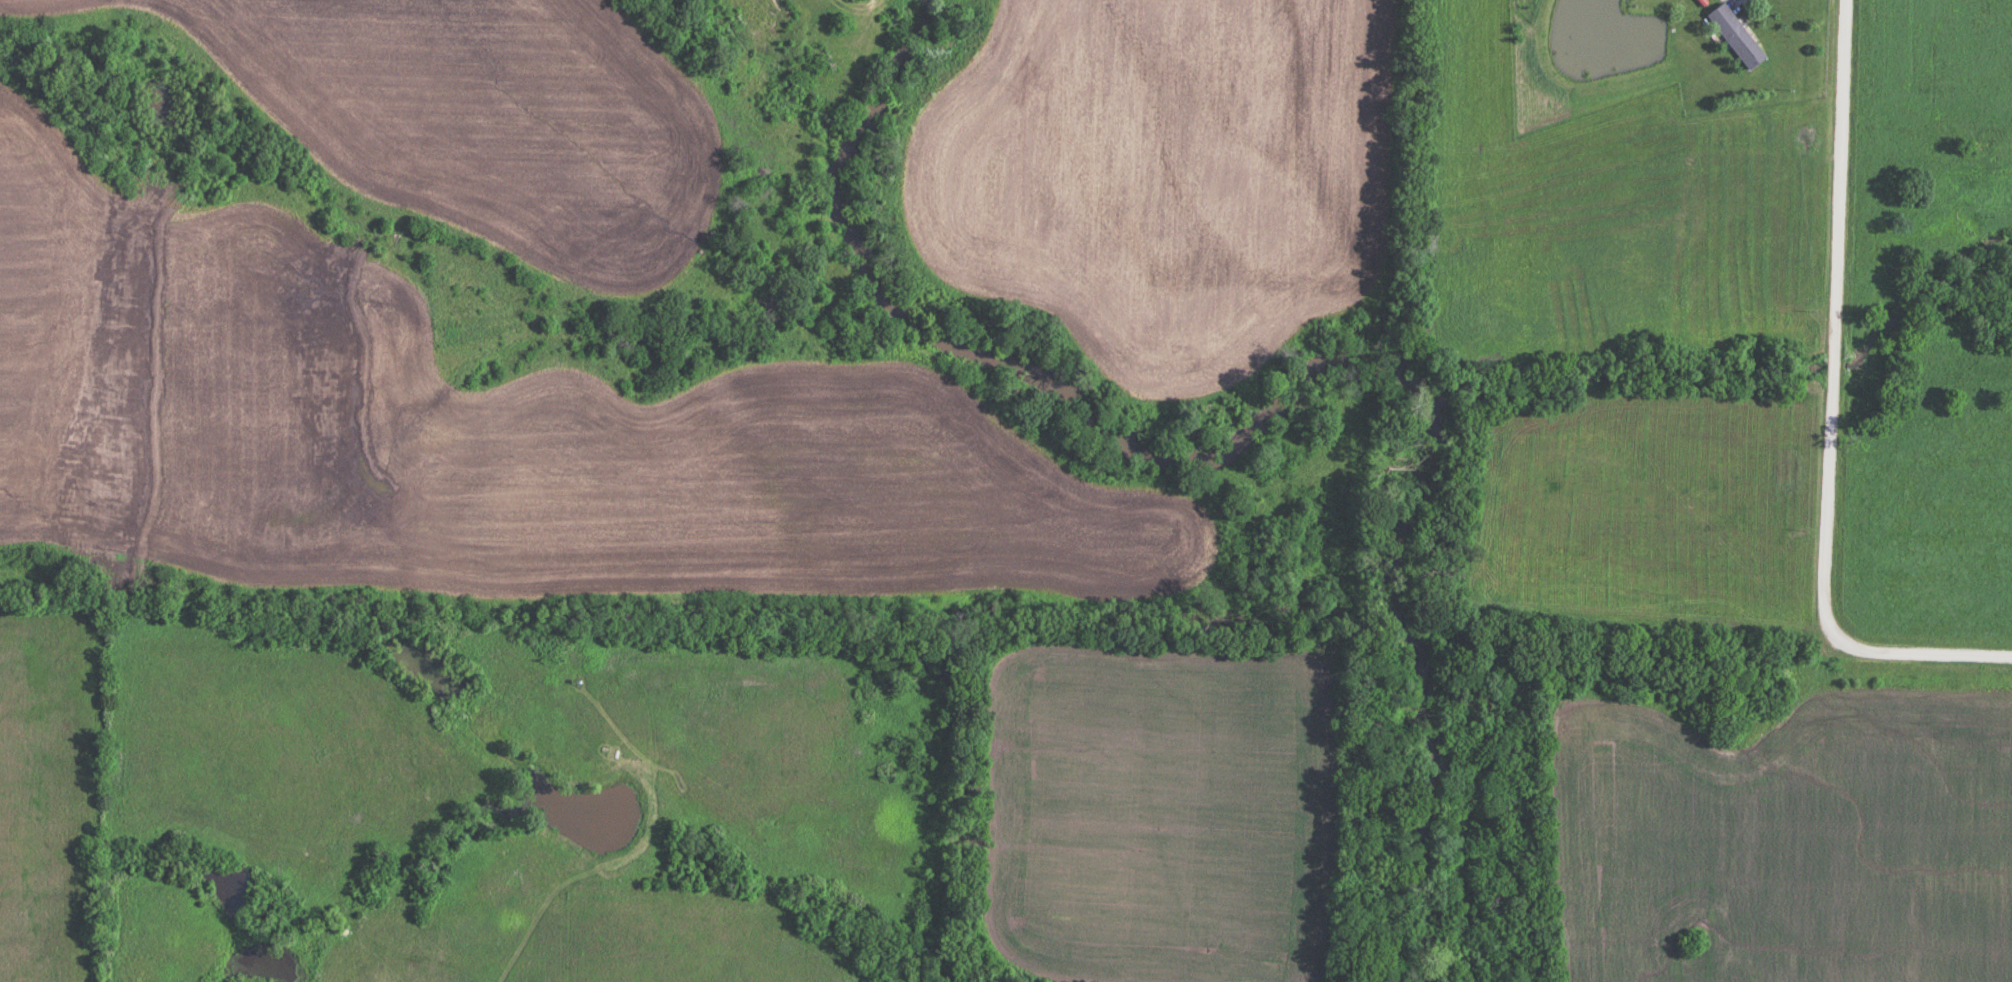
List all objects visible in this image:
building: (1737, 34)
road: (1838, 406)

